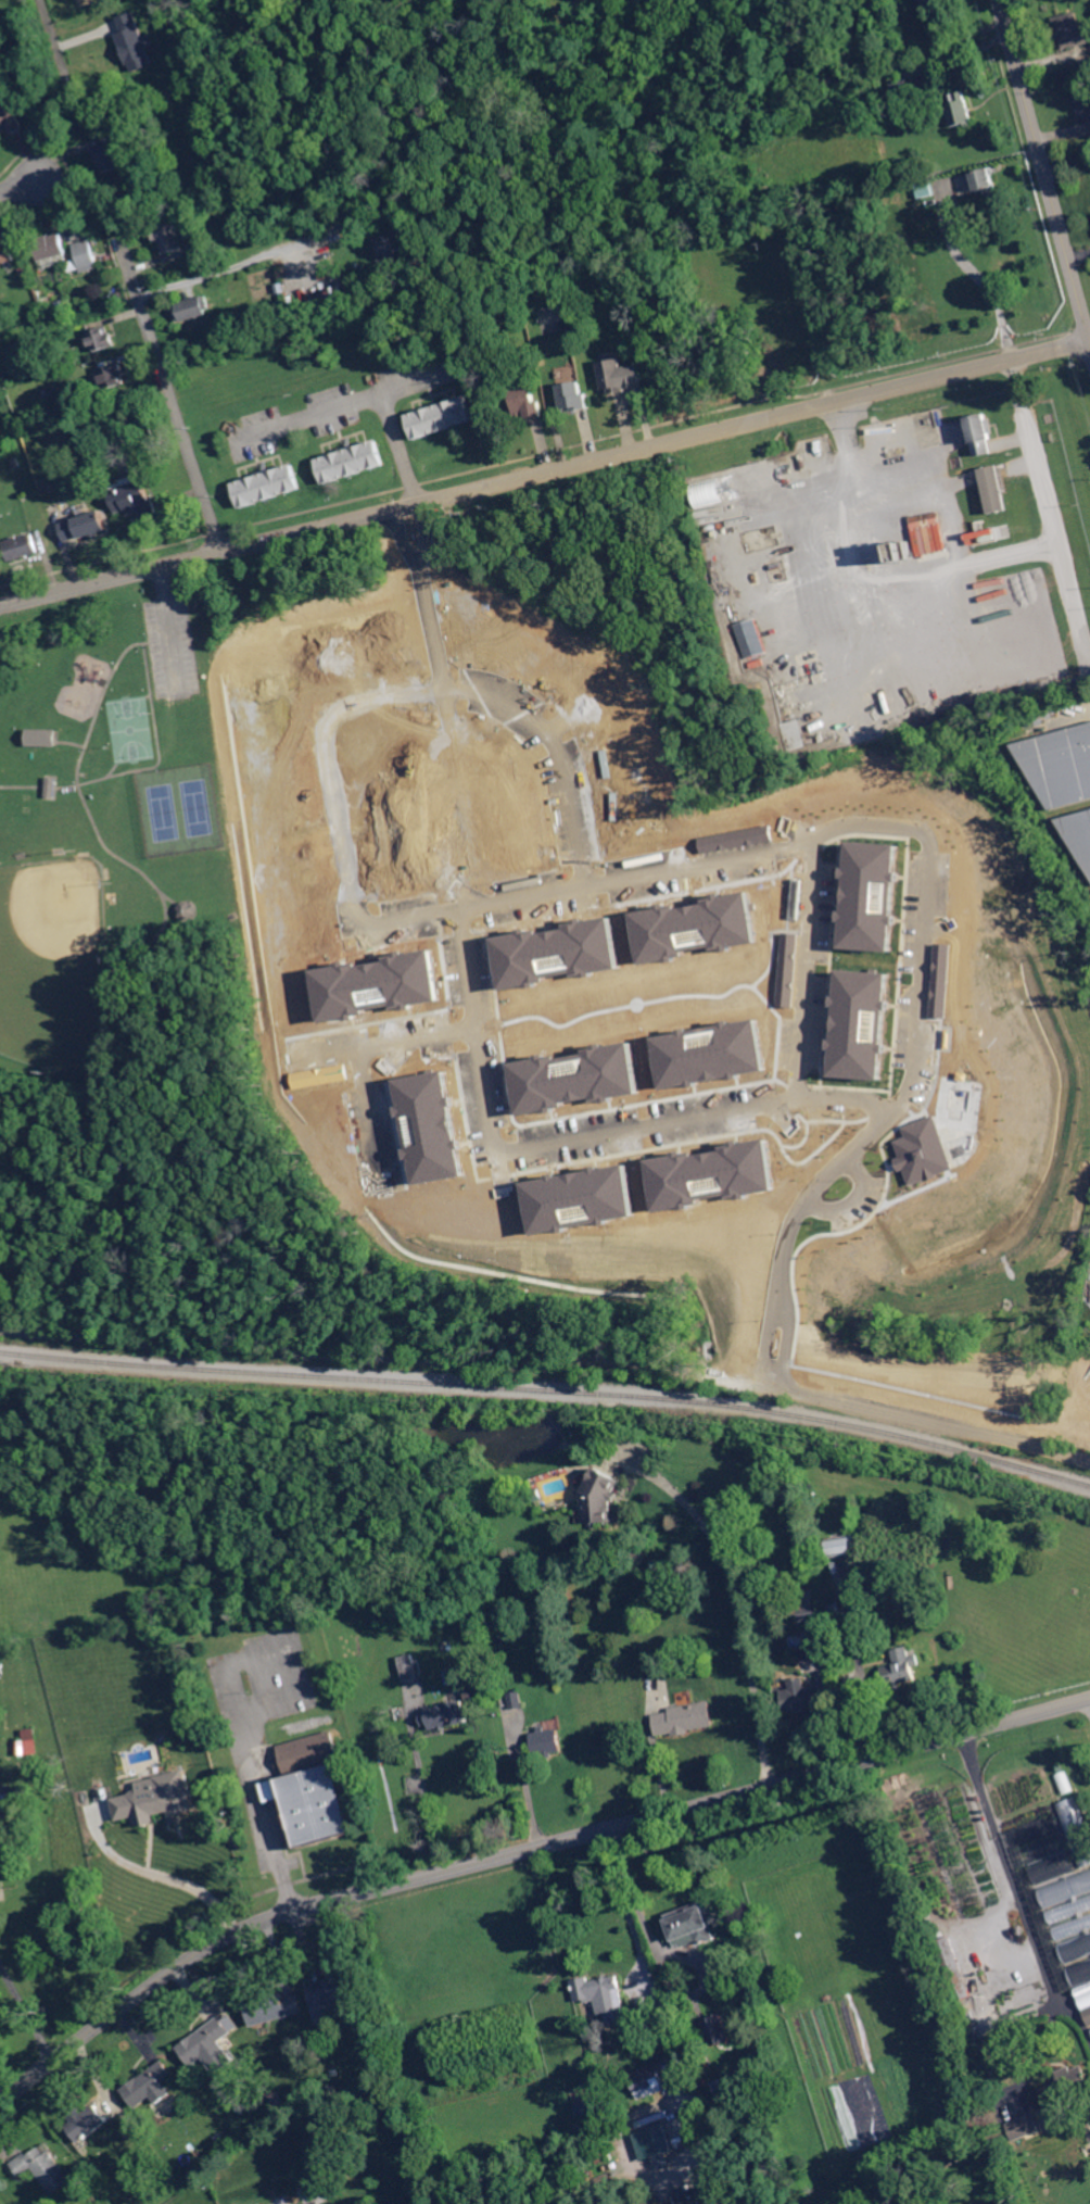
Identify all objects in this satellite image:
building: (935, 5)
building: (903, 8)
building: (106, 10)
building: (1072, 29)
building: (828, 33)
road: (58, 47)
building: (104, 49)
building: (141, 52)
building: (1086, 73)
building: (900, 84)
building: (644, 98)
building: (1083, 102)
building: (901, 103)
building: (243, 108)
building: (961, 111)
building: (10, 119)
building: (107, 158)
road: (37, 177)
building: (984, 181)
road: (1044, 185)
building: (921, 189)
building: (167, 237)
building: (50, 247)
building: (5, 250)
building: (392, 250)
building: (87, 256)
building: (749, 257)
building: (728, 266)
road: (226, 267)
building: (709, 270)
building: (23, 272)
road: (977, 274)
building: (42, 301)
building: (192, 308)
building: (420, 314)
building: (102, 339)
building: (63, 368)
building: (622, 376)
building: (114, 377)
road: (409, 380)
road: (168, 386)
building: (17, 394)
road: (362, 395)
building: (575, 398)
building: (79, 399)
building: (529, 405)
building: (113, 411)
building: (441, 418)
building: (980, 434)
building: (898, 439)
building: (351, 462)
building: (16, 463)
building: (89, 465)
road: (541, 474)
building: (267, 487)
building: (993, 489)
building: (708, 492)
building: (136, 500)
road: (1044, 512)
building: (85, 526)
building: (928, 532)
building: (981, 536)
building: (22, 547)
building: (750, 547)
building: (905, 553)
building: (784, 577)
road: (873, 577)
building: (732, 612)
road: (170, 628)
building: (751, 639)
parking lot: (172, 645)
building: (810, 664)
building: (1021, 688)
road: (129, 697)
building: (789, 710)
park: (130, 729)
building: (793, 733)
building: (40, 735)
road: (65, 741)
road: (126, 760)
building: (1061, 765)
road: (129, 770)
road: (78, 784)
building: (50, 785)
park: (197, 806)
park: (163, 811)
building: (1079, 832)
road: (683, 868)
building: (922, 884)
building: (871, 895)
road: (169, 897)
building: (186, 909)
road: (405, 921)
park: (54, 965)
road: (809, 969)
building: (943, 979)
park: (139, 992)
building: (861, 1023)
road: (364, 1059)
building: (925, 1149)
road: (549, 1358)
railway: (548, 1390)
building: (536, 1495)
building: (598, 1498)
building: (845, 1546)
building: (824, 1595)
road: (738, 1600)
building: (807, 1604)
building: (835, 1617)
building: (503, 1637)
building: (408, 1667)
building: (901, 1667)
building: (801, 1696)
building: (516, 1700)
building: (442, 1715)
building: (685, 1717)
building: (546, 1741)
building: (28, 1743)
building: (1064, 1784)
road: (253, 1790)
building: (310, 1791)
building: (154, 1798)
road: (422, 1800)
building: (1076, 1830)
building: (3, 1844)
road: (521, 1851)
road: (1011, 1863)
road: (163, 1876)
road: (630, 1887)
building: (1065, 1890)
building: (851, 1898)
road: (620, 1899)
building: (1069, 1910)
building: (693, 1925)
building: (1073, 1927)
building: (1019, 1930)
building: (1076, 1948)
building: (952, 1969)
building: (1080, 1973)
building: (1085, 1995)
building: (332, 1997)
building: (603, 1997)
building: (272, 2008)
road: (26, 2010)
building: (1088, 2014)
building: (713, 2032)
building: (207, 2041)
road: (1043, 2049)
building: (335, 2074)
building: (701, 2076)
building: (647, 2082)
building: (731, 2083)
building: (151, 2085)
building: (1064, 2091)
building: (87, 2123)
building: (1024, 2127)
building: (220, 2139)
building: (657, 2141)
building: (45, 2167)
building: (205, 2182)

